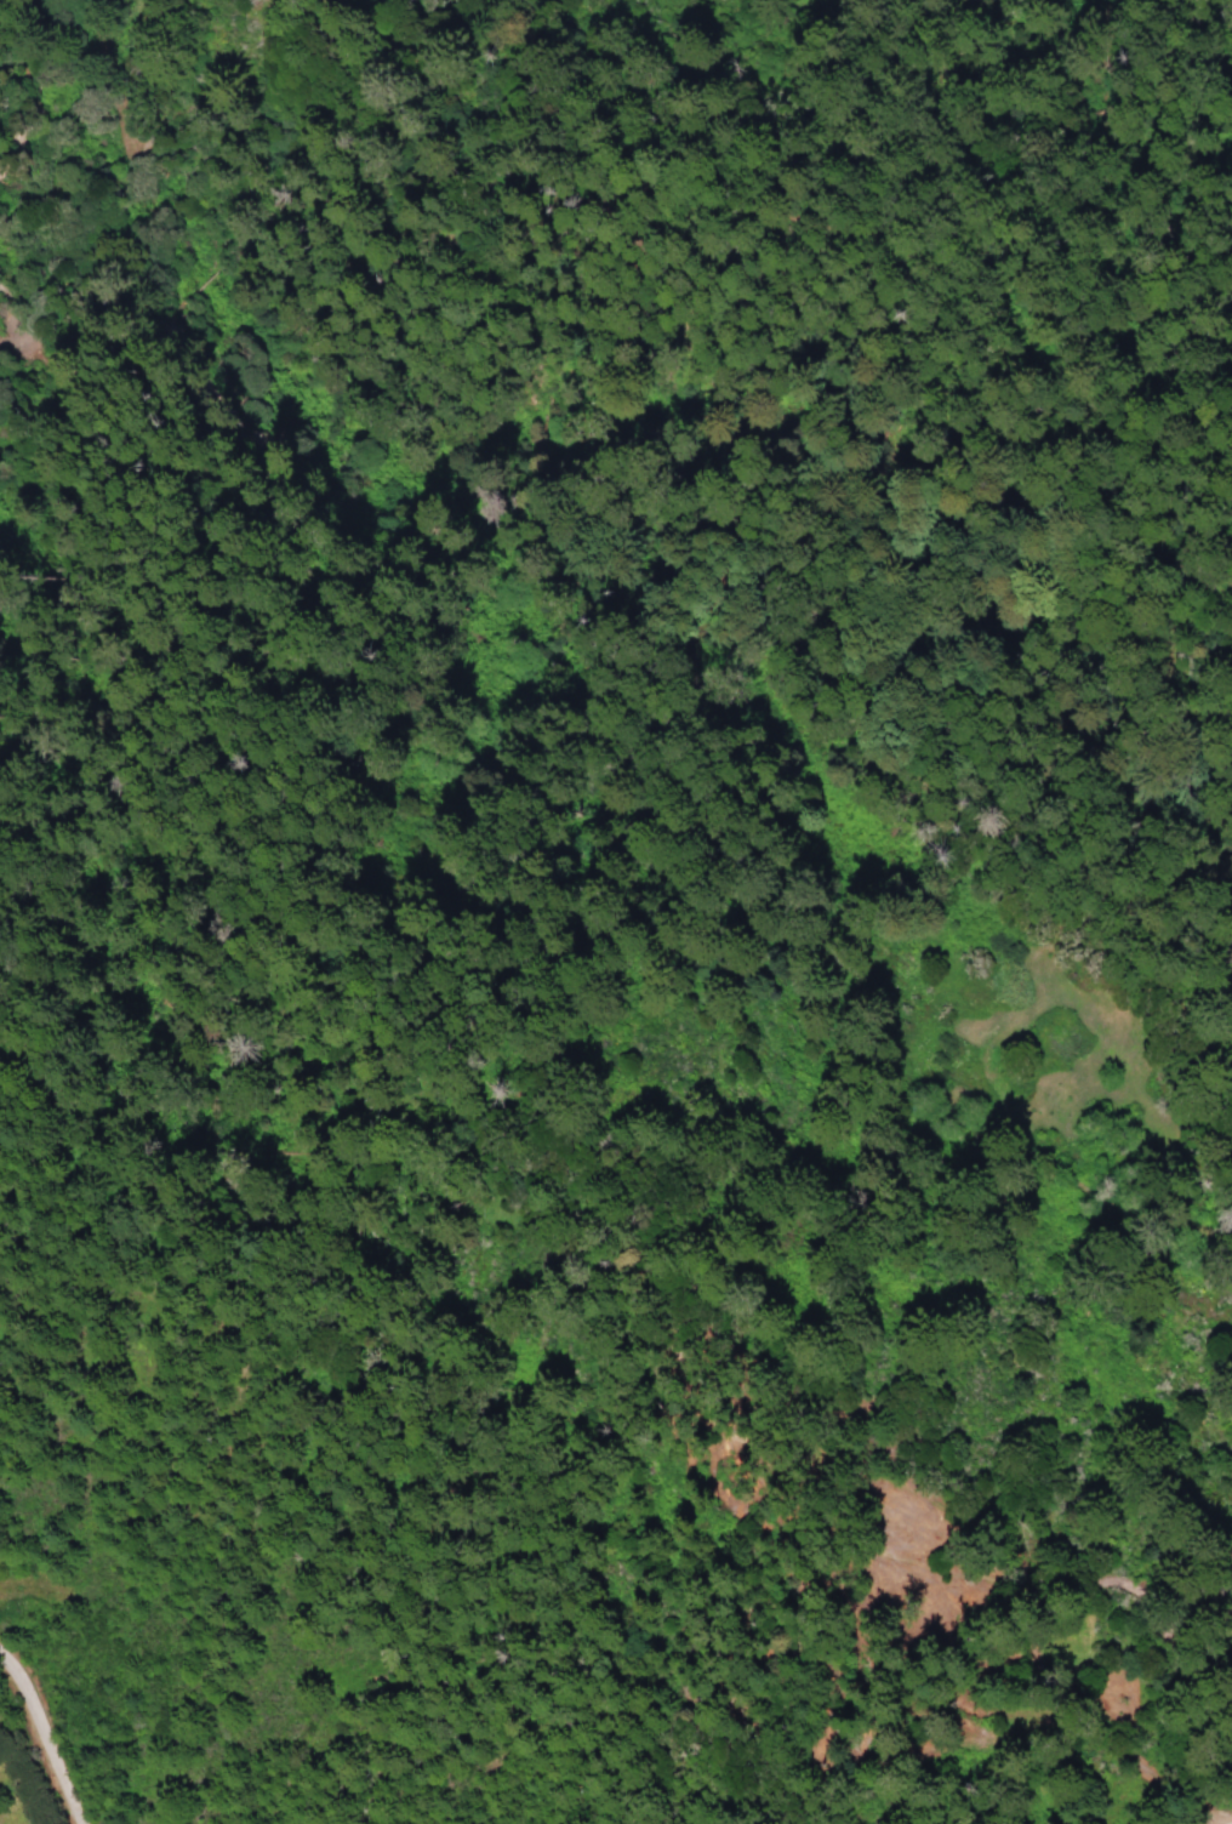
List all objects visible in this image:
road: (46, 1735)

